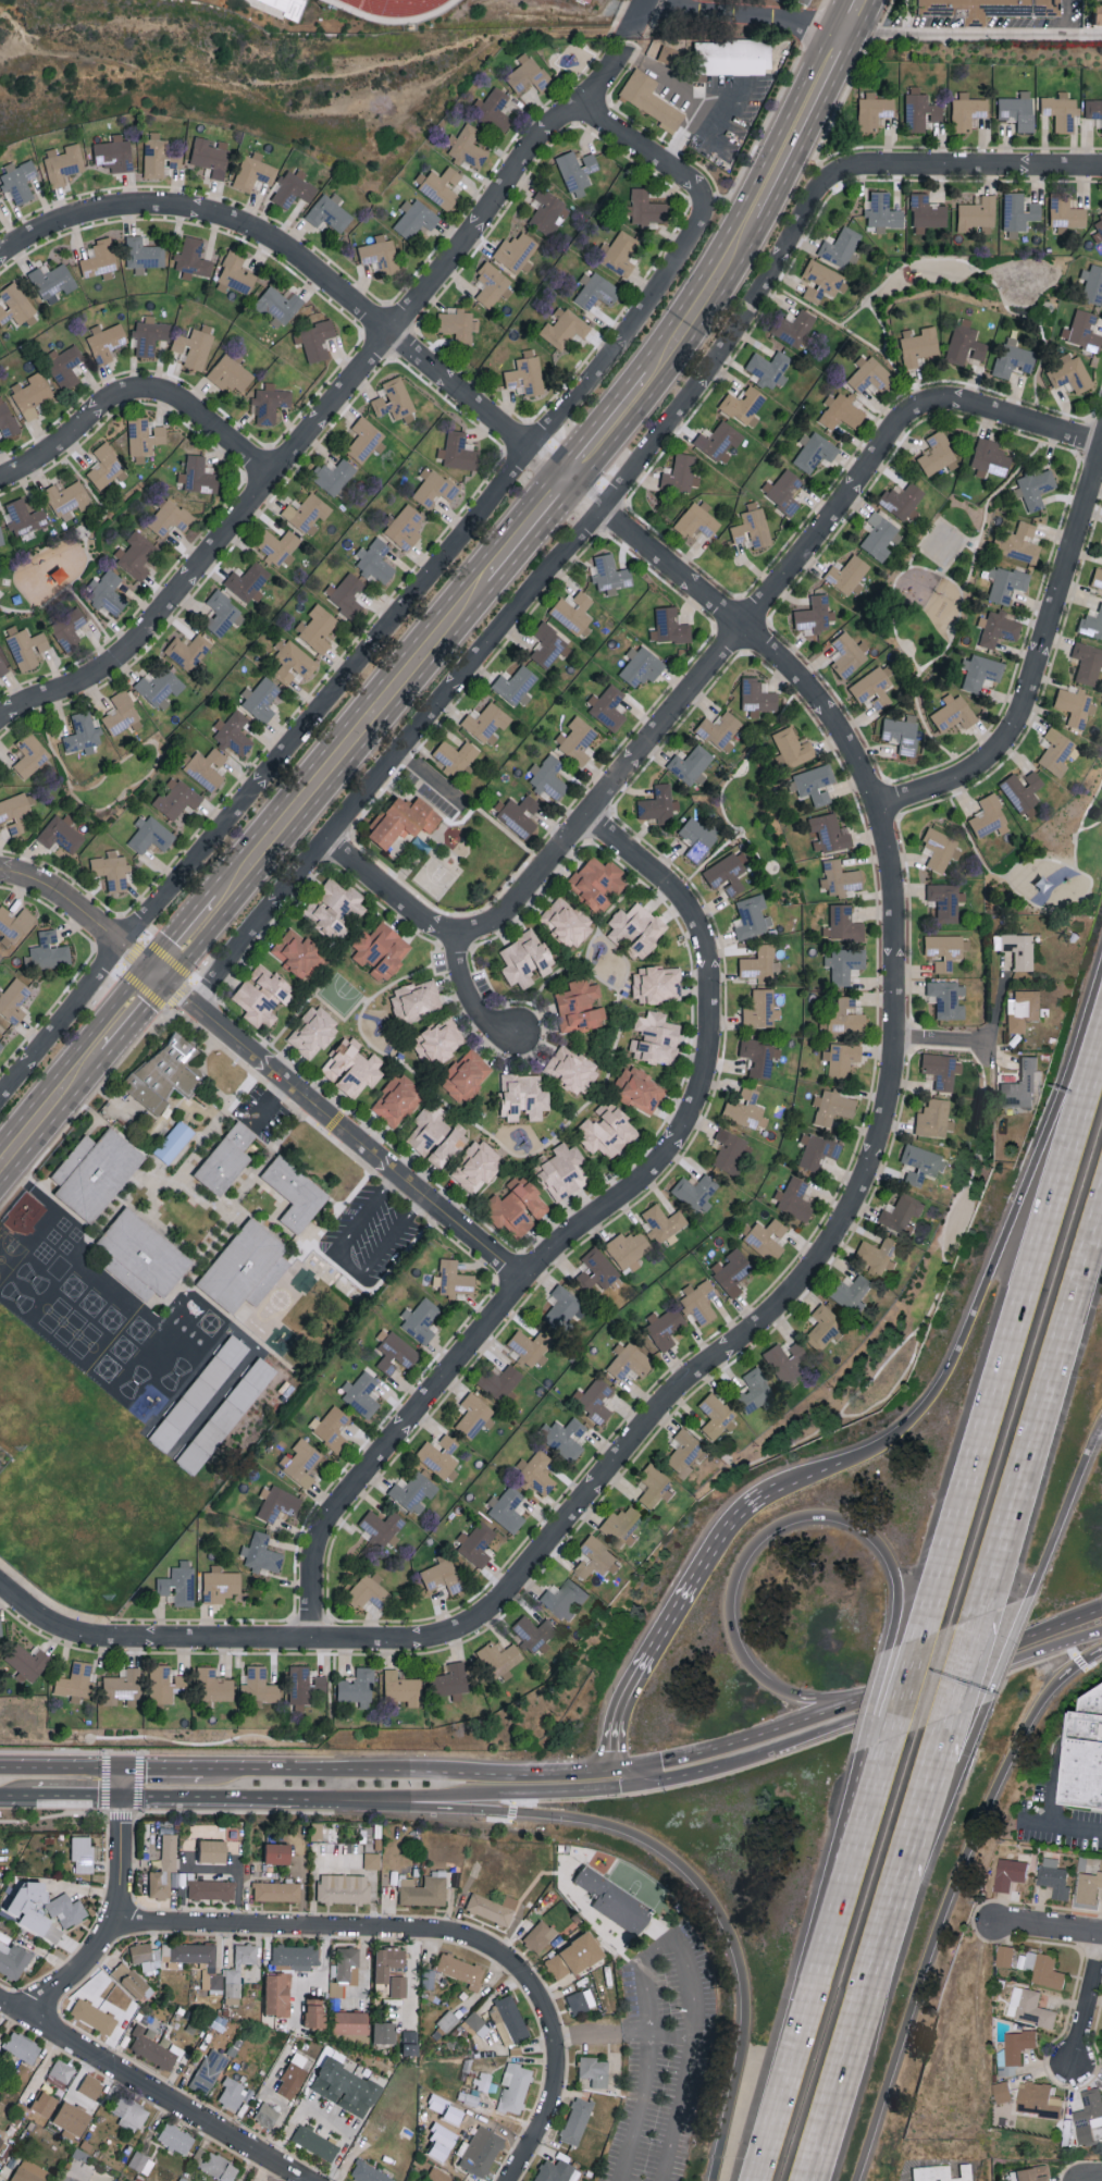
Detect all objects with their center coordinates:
building: (587, 0)
building: (780, 0)
building: (800, 1)
building: (425, 4)
building: (280, 5)
building: (988, 8)
building: (1099, 12)
road: (640, 15)
road: (754, 16)
road: (1068, 16)
road: (852, 19)
road: (975, 34)
building: (667, 53)
building: (732, 56)
building: (527, 74)
building: (651, 99)
road: (691, 107)
building: (1093, 108)
building: (493, 109)
building: (919, 109)
building: (1017, 109)
building: (872, 110)
building: (966, 110)
building: (1061, 110)
road: (797, 126)
building: (466, 147)
building: (114, 152)
road: (644, 152)
building: (156, 153)
building: (210, 155)
building: (63, 162)
building: (577, 170)
road: (958, 170)
building: (253, 171)
building: (18, 180)
building: (438, 185)
building: (293, 188)
road: (716, 200)
building: (645, 207)
building: (546, 210)
building: (882, 211)
building: (329, 212)
building: (1018, 212)
building: (1065, 212)
building: (927, 213)
building: (977, 215)
building: (416, 219)
building: (1097, 227)
building: (841, 247)
building: (516, 250)
road: (290, 252)
building: (380, 252)
building: (143, 254)
building: (619, 254)
building: (100, 258)
building: (193, 258)
road: (959, 262)
building: (235, 274)
building: (53, 282)
building: (492, 284)
building: (1092, 284)
building: (596, 289)
park: (957, 293)
road: (703, 297)
building: (16, 304)
building: (277, 305)
road: (1021, 316)
building: (457, 324)
road: (882, 325)
building: (564, 326)
building: (795, 329)
building: (1081, 330)
building: (150, 334)
building: (314, 340)
building: (106, 341)
building: (965, 343)
building: (917, 345)
building: (194, 347)
building: (1013, 358)
road: (891, 360)
building: (64, 366)
building: (769, 368)
building: (527, 373)
building: (1069, 373)
building: (231, 374)
building: (868, 374)
building: (32, 394)
road: (137, 394)
building: (394, 399)
building: (270, 403)
building: (743, 404)
road: (333, 407)
building: (842, 412)
building: (7, 418)
road: (609, 430)
building: (718, 441)
building: (458, 452)
building: (814, 452)
building: (938, 453)
building: (990, 458)
building: (106, 466)
road: (550, 468)
building: (681, 473)
building: (198, 475)
building: (333, 476)
building: (433, 486)
building: (1036, 488)
building: (783, 490)
building: (69, 498)
building: (902, 500)
building: (307, 512)
road: (106, 513)
building: (25, 516)
building: (696, 520)
building: (406, 526)
building: (752, 526)
road: (528, 532)
road: (930, 532)
building: (879, 535)
building: (1, 537)
building: (1017, 542)
building: (276, 545)
building: (136, 554)
road: (959, 555)
road: (914, 558)
building: (375, 559)
park: (53, 568)
building: (610, 574)
building: (846, 574)
building: (1097, 577)
road: (428, 580)
building: (248, 581)
building: (1005, 582)
park: (932, 589)
road: (895, 591)
building: (107, 592)
building: (346, 592)
road: (73, 593)
road: (963, 606)
road: (525, 611)
building: (572, 611)
building: (223, 613)
building: (814, 614)
building: (1091, 624)
building: (669, 626)
building: (317, 627)
building: (998, 627)
building: (69, 629)
building: (26, 645)
building: (547, 645)
building: (186, 651)
building: (846, 654)
building: (293, 661)
building: (1087, 662)
building: (641, 666)
building: (2, 667)
building: (980, 670)
road: (708, 673)
road: (1037, 674)
building: (515, 685)
building: (160, 686)
building: (874, 687)
building: (756, 697)
building: (260, 698)
building: (1074, 705)
building: (607, 706)
building: (121, 713)
building: (953, 714)
building: (486, 723)
building: (719, 728)
building: (234, 732)
building: (901, 732)
building: (83, 734)
road: (354, 741)
building: (791, 748)
building: (1056, 752)
building: (30, 754)
building: (455, 757)
road: (748, 757)
building: (691, 763)
building: (206, 768)
building: (549, 777)
road: (433, 778)
building: (813, 784)
road: (126, 790)
building: (1023, 791)
building: (176, 799)
building: (658, 804)
building: (16, 812)
building: (519, 814)
building: (989, 816)
building: (403, 821)
building: (828, 833)
building: (61, 834)
building: (150, 834)
building: (697, 838)
road: (726, 845)
building: (939, 848)
road: (1024, 861)
building: (111, 870)
building: (727, 873)
building: (839, 877)
building: (596, 882)
building: (945, 900)
road: (67, 901)
building: (334, 905)
building: (753, 917)
building: (567, 922)
building: (842, 923)
building: (13, 925)
building: (636, 927)
road: (189, 939)
building: (1019, 949)
building: (382, 950)
building: (943, 950)
building: (48, 952)
building: (298, 953)
building: (525, 959)
road: (141, 963)
building: (760, 963)
building: (844, 963)
traffic signals: (158, 977)
building: (656, 983)
road: (177, 993)
building: (261, 995)
road: (470, 996)
building: (416, 999)
building: (946, 999)
building: (13, 1000)
building: (580, 1007)
building: (760, 1009)
building: (1024, 1009)
road: (128, 1012)
building: (846, 1016)
road: (62, 1022)
building: (312, 1032)
building: (655, 1038)
road: (942, 1040)
building: (438, 1042)
building: (1, 1046)
building: (759, 1057)
building: (842, 1058)
building: (351, 1068)
building: (575, 1070)
building: (941, 1070)
building: (170, 1071)
building: (466, 1075)
building: (1023, 1085)
building: (523, 1096)
building: (396, 1099)
road: (50, 1107)
building: (833, 1107)
building: (746, 1109)
building: (932, 1118)
building: (426, 1129)
building: (606, 1132)
building: (173, 1142)
road: (360, 1145)
building: (449, 1146)
building: (817, 1149)
building: (730, 1151)
building: (228, 1157)
building: (920, 1163)
building: (476, 1166)
building: (96, 1171)
building: (564, 1171)
building: (695, 1192)
building: (296, 1195)
building: (794, 1198)
building: (517, 1208)
building: (25, 1212)
building: (903, 1213)
building: (665, 1222)
road: (970, 1222)
road: (583, 1228)
parking lot: (371, 1237)
building: (767, 1239)
road: (1001, 1242)
building: (628, 1248)
building: (878, 1254)
building: (143, 1256)
road: (348, 1265)
building: (248, 1269)
building: (596, 1270)
building: (731, 1271)
building: (451, 1279)
road: (796, 1289)
building: (853, 1293)
building: (699, 1302)
building: (562, 1309)
building: (420, 1319)
road: (1013, 1324)
building: (824, 1326)
building: (665, 1328)
road: (914, 1336)
building: (530, 1347)
building: (395, 1353)
building: (629, 1360)
building: (788, 1361)
building: (500, 1382)
road: (897, 1388)
building: (754, 1390)
building: (200, 1393)
building: (361, 1393)
building: (594, 1400)
building: (473, 1415)
road: (1043, 1416)
building: (227, 1417)
building: (717, 1418)
building: (331, 1428)
building: (564, 1437)
building: (684, 1453)
building: (438, 1456)
building: (300, 1462)
road: (817, 1471)
building: (537, 1474)
building: (655, 1487)
road: (769, 1490)
building: (412, 1491)
building: (277, 1503)
building: (507, 1508)
road: (1067, 1518)
building: (622, 1525)
building: (381, 1526)
road: (721, 1535)
building: (478, 1542)
road: (768, 1543)
building: (260, 1553)
building: (595, 1556)
building: (442, 1574)
building: (178, 1582)
building: (220, 1584)
building: (368, 1591)
building: (566, 1598)
building: (0, 1626)
building: (534, 1632)
road: (1084, 1639)
road: (977, 1655)
road: (1073, 1655)
building: (499, 1658)
road: (1008, 1658)
road: (1090, 1658)
building: (26, 1660)
road: (971, 1663)
road: (639, 1672)
building: (75, 1680)
building: (450, 1680)
building: (164, 1683)
building: (305, 1684)
building: (122, 1685)
building: (213, 1685)
building: (259, 1685)
road: (908, 1685)
building: (359, 1687)
building: (401, 1687)
road: (892, 1692)
road: (931, 1693)
road: (950, 1733)
road: (255, 1738)
road: (732, 1742)
road: (65, 1752)
building: (1090, 1754)
road: (742, 1758)
road: (59, 1767)
traffic signals: (145, 1769)
road: (160, 1769)
traffic signals: (610, 1770)
road: (406, 1771)
road: (879, 1771)
road: (617, 1778)
road: (655, 1780)
road: (119, 1783)
road: (949, 1783)
traffic signals: (623, 1788)
road: (1053, 1791)
road: (567, 1794)
road: (14, 1796)
road: (73, 1797)
traffic signals: (96, 1798)
road: (223, 1798)
road: (475, 1800)
road: (385, 1801)
road: (930, 1802)
road: (474, 1807)
road: (238, 1812)
road: (51, 1815)
road: (120, 1815)
traffic signals: (119, 1823)
road: (1062, 1824)
building: (213, 1850)
building: (82, 1852)
building: (277, 1852)
road: (116, 1859)
building: (372, 1859)
building: (166, 1871)
building: (1012, 1872)
building: (1056, 1876)
building: (1090, 1886)
building: (343, 1887)
building: (210, 1889)
building: (276, 1890)
building: (423, 1890)
building: (611, 1901)
building: (491, 1908)
building: (34, 1909)
building: (66, 1909)
road: (952, 1914)
road: (295, 1926)
road: (725, 1926)
road: (1050, 1930)
building: (538, 1935)
road: (669, 1939)
building: (188, 1951)
building: (1006, 1955)
building: (146, 1956)
building: (296, 1956)
building: (573, 1956)
road: (826, 1958)
building: (13, 1959)
building: (387, 1961)
building: (347, 1964)
building: (1045, 1968)
building: (461, 1970)
building: (237, 1971)
building: (215, 1980)
building: (132, 1981)
building: (398, 1985)
building: (277, 1994)
building: (581, 2000)
building: (1031, 2007)
road: (1088, 2010)
building: (314, 2012)
building: (94, 2016)
road: (860, 2016)
building: (447, 2020)
building: (474, 2020)
building: (508, 2020)
building: (351, 2021)
building: (384, 2031)
road: (600, 2034)
road: (667, 2034)
building: (410, 2042)
building: (23, 2046)
building: (152, 2048)
building: (1016, 2049)
parking lot: (661, 2060)
road: (42, 2066)
building: (208, 2070)
building: (594, 2070)
building: (60, 2072)
building: (293, 2077)
building: (483, 2081)
building: (91, 2085)
building: (346, 2086)
building: (513, 2087)
road: (157, 2090)
building: (1004, 2091)
building: (233, 2094)
building: (1040, 2098)
building: (45, 2103)
road: (641, 2107)
building: (1090, 2108)
road: (677, 2109)
building: (129, 2112)
road: (549, 2112)
building: (267, 2115)
road: (325, 2115)
building: (72, 2119)
building: (575, 2120)
building: (176, 2137)
building: (315, 2142)
building: (2, 2145)
building: (479, 2152)
building: (141, 2161)
building: (220, 2167)
building: (554, 2170)
building: (30, 2171)
building: (369, 2172)
building: (941, 2172)
building: (1033, 2173)
building: (438, 2174)
road: (1093, 2177)
building: (65, 2178)
building: (182, 2179)

